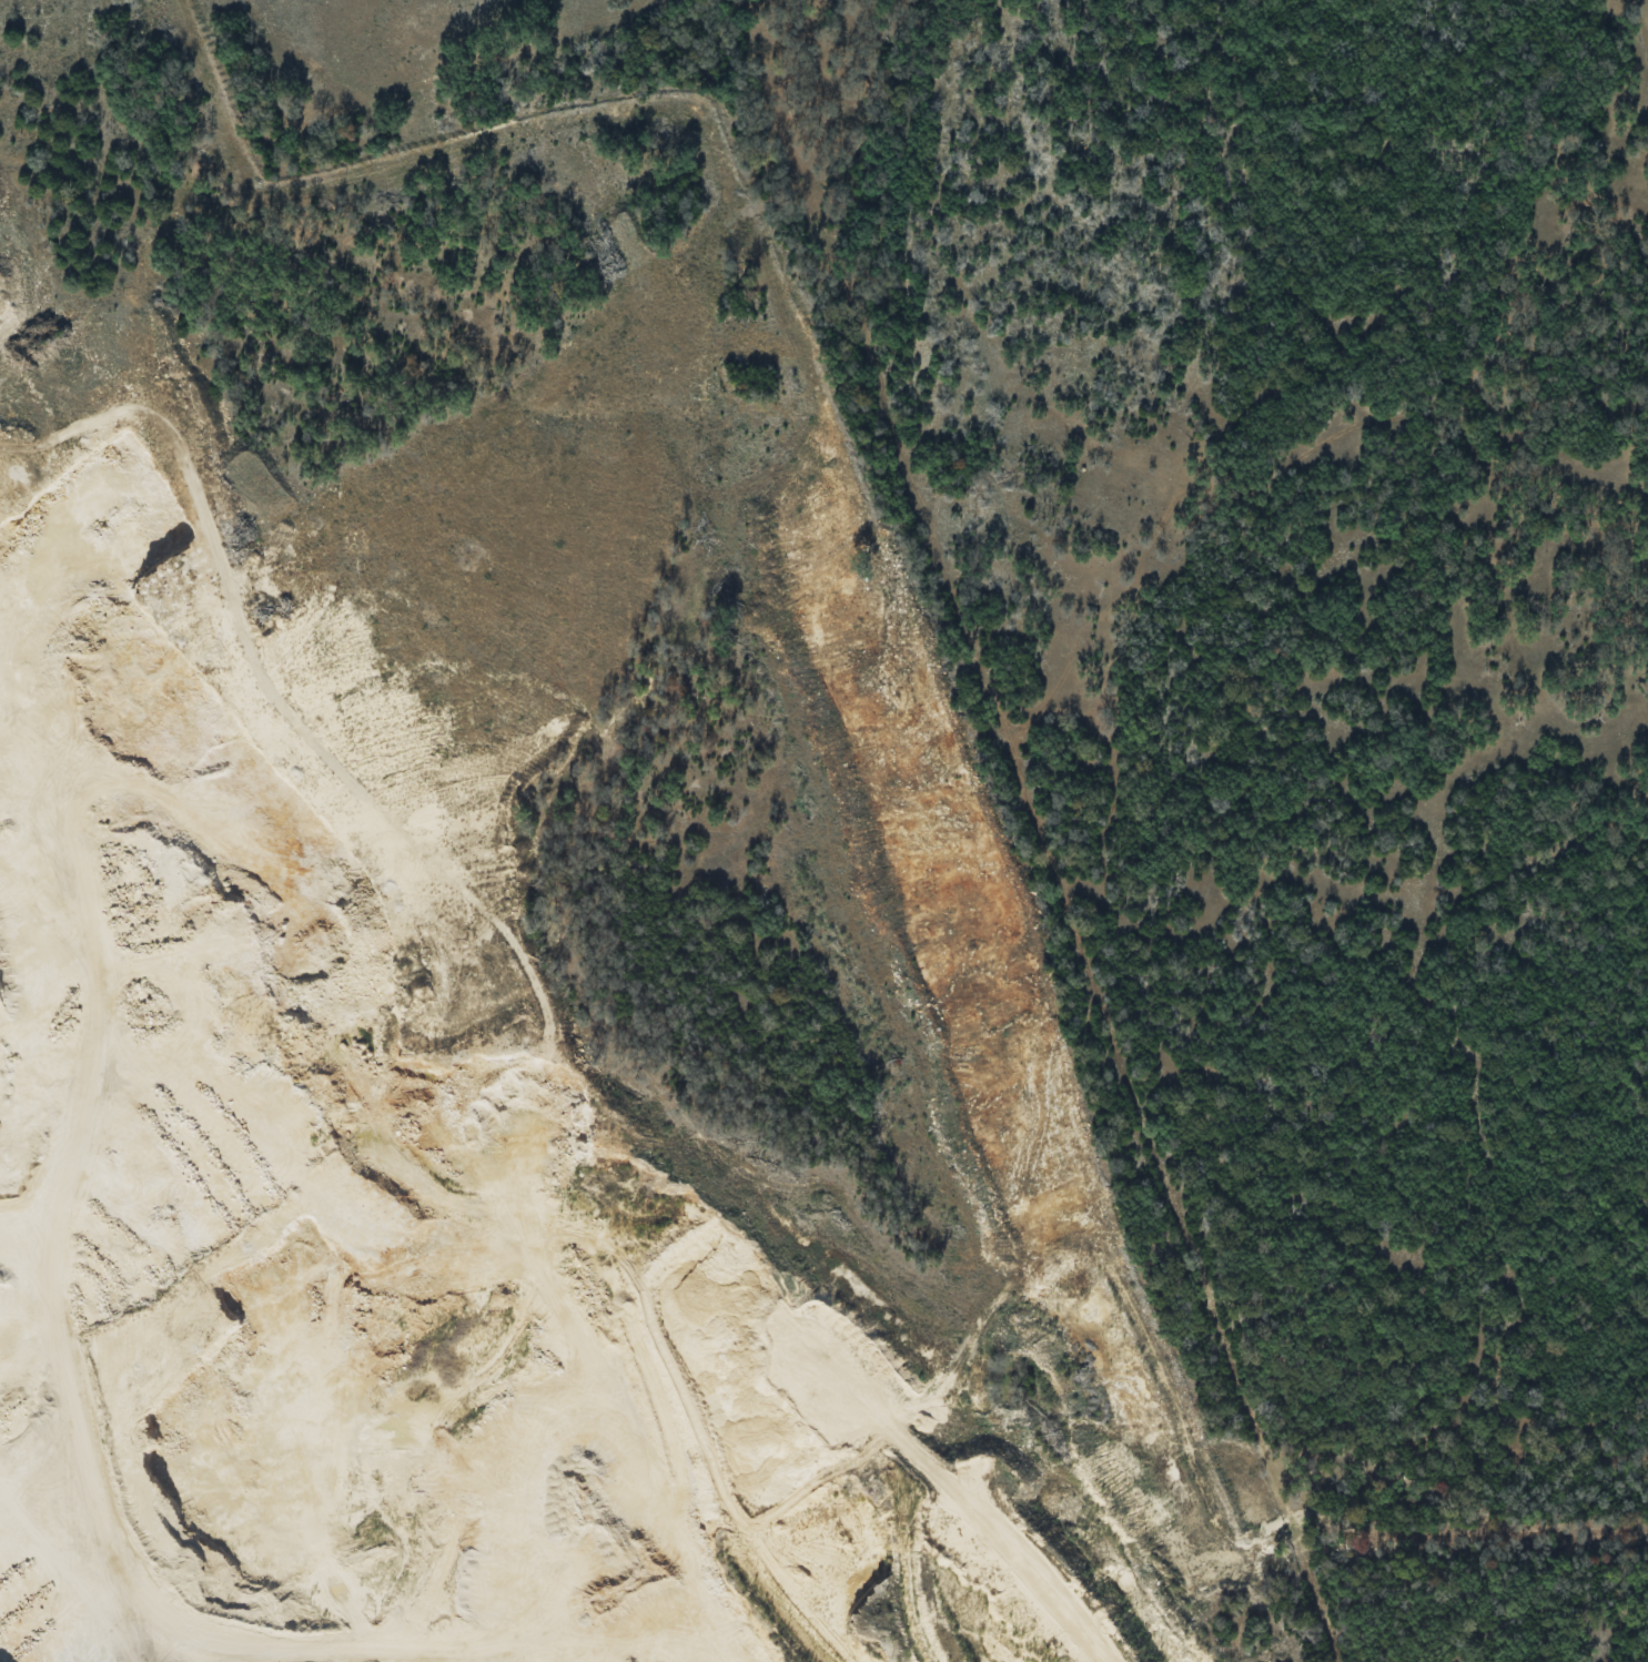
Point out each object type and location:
quarry: (580, 1521)

